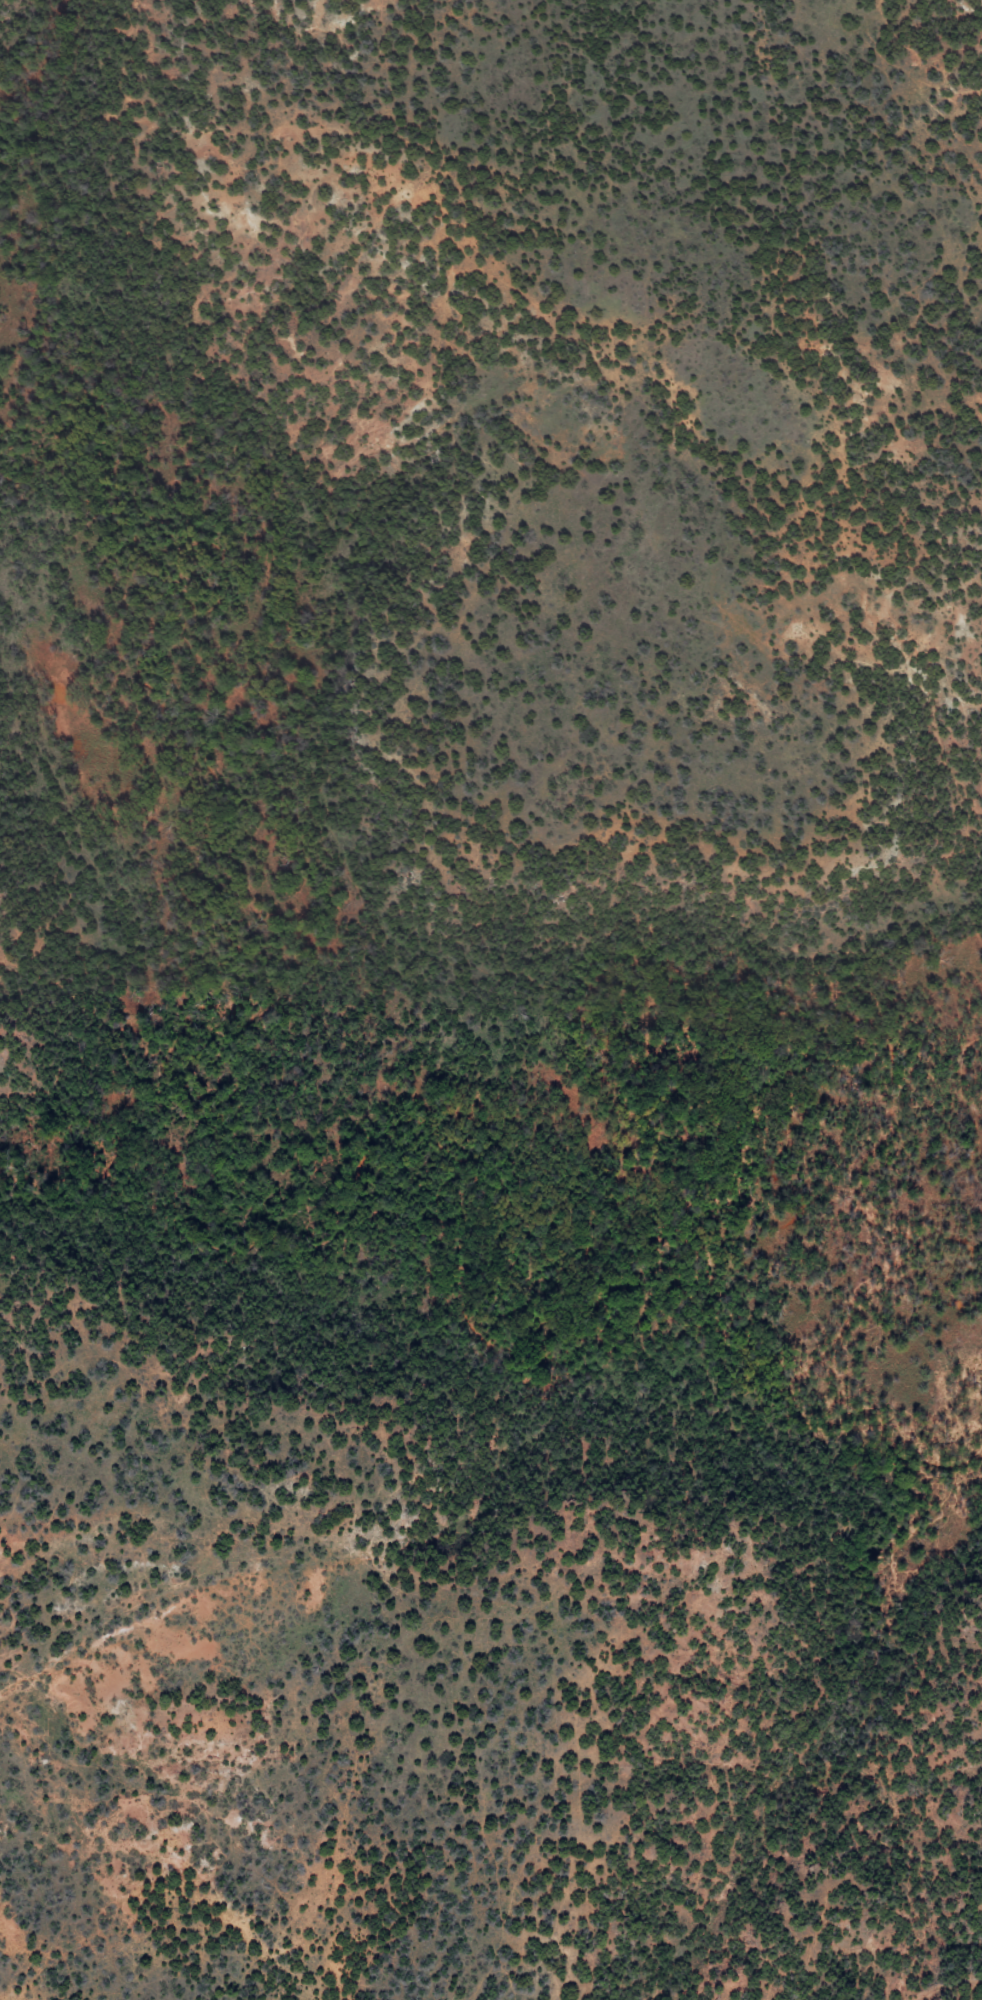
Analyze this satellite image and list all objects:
road: (956, 1982)

